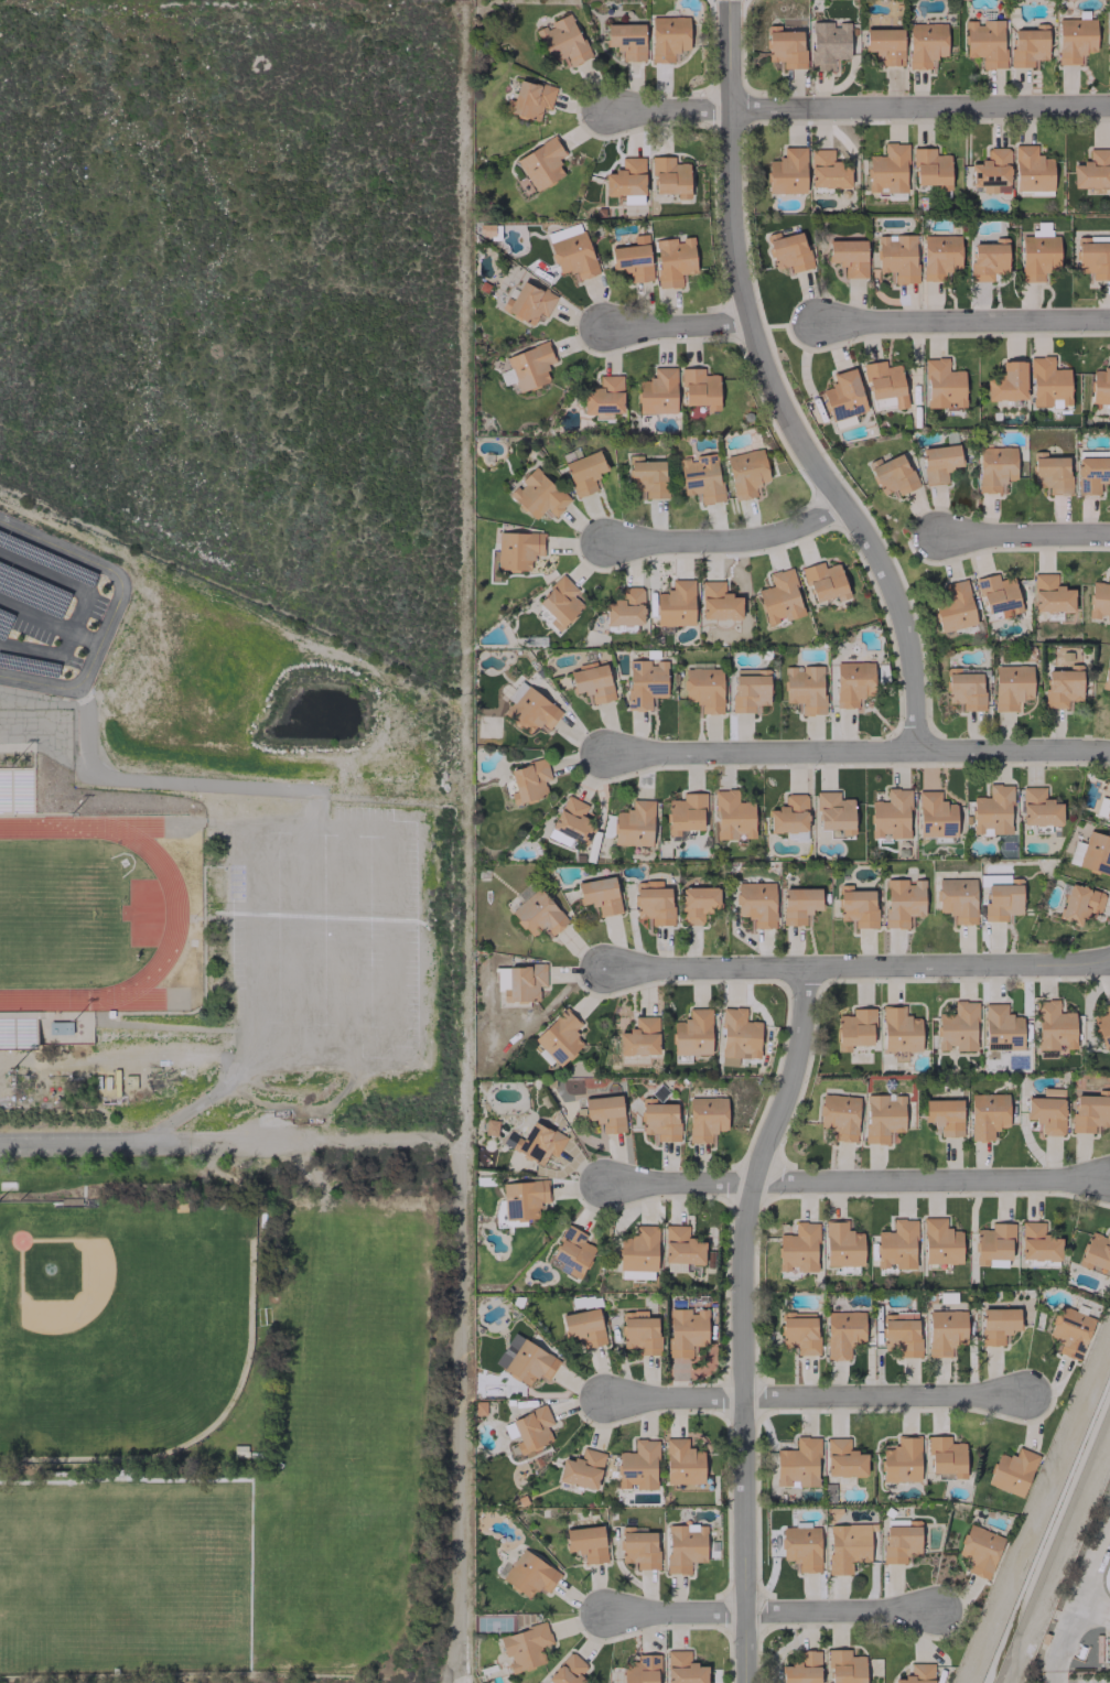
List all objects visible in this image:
building: (668, 37)
building: (1074, 39)
building: (562, 40)
building: (626, 40)
building: (984, 42)
building: (828, 44)
building: (925, 44)
building: (884, 45)
building: (1027, 45)
building: (785, 46)
building: (530, 99)
road: (860, 110)
building: (541, 163)
building: (930, 168)
building: (887, 169)
building: (1092, 169)
building: (827, 170)
building: (1031, 170)
building: (992, 171)
building: (787, 172)
building: (669, 176)
building: (626, 181)
building: (1041, 229)
building: (571, 250)
building: (789, 252)
building: (848, 256)
building: (939, 256)
building: (632, 257)
building: (897, 257)
building: (1037, 257)
building: (1092, 258)
building: (988, 259)
building: (673, 260)
building: (528, 302)
road: (963, 322)
road: (675, 328)
building: (527, 367)
building: (884, 381)
building: (1007, 382)
building: (1048, 384)
building: (942, 385)
building: (1100, 386)
building: (699, 388)
building: (657, 392)
road: (768, 393)
building: (843, 395)
building: (603, 397)
building: (938, 462)
building: (994, 467)
building: (583, 473)
building: (745, 473)
building: (892, 474)
building: (1050, 474)
building: (1091, 474)
building: (647, 477)
building: (701, 477)
building: (538, 495)
road: (1023, 536)
road: (726, 544)
building: (517, 550)
building: (825, 582)
building: (998, 594)
building: (1050, 594)
building: (779, 597)
building: (1099, 600)
building: (559, 602)
building: (718, 602)
building: (675, 604)
building: (625, 607)
building: (953, 607)
parking lot: (44, 608)
road: (114, 608)
road: (78, 609)
road: (49, 621)
building: (1106, 680)
building: (591, 682)
building: (645, 682)
building: (852, 683)
building: (1063, 686)
building: (1011, 687)
building: (804, 688)
building: (964, 688)
building: (703, 689)
building: (748, 689)
building: (530, 711)
road: (856, 754)
road: (173, 781)
building: (528, 781)
building: (1038, 808)
building: (1108, 810)
building: (992, 811)
building: (685, 813)
building: (834, 813)
building: (789, 814)
building: (891, 814)
building: (935, 814)
building: (732, 817)
building: (572, 820)
road: (319, 824)
building: (633, 824)
building: (795, 835)
road: (466, 841)
building: (1091, 853)
building: (599, 895)
building: (957, 899)
building: (1002, 900)
building: (653, 902)
building: (902, 902)
building: (697, 903)
building: (755, 903)
building: (1079, 903)
building: (798, 904)
building: (858, 907)
building: (537, 914)
stadium: (100, 916)
road: (248, 934)
road: (299, 937)
parking lot: (321, 937)
road: (344, 940)
road: (390, 943)
road: (862, 971)
building: (525, 982)
building: (1102, 1025)
building: (1054, 1026)
building: (957, 1027)
building: (854, 1028)
building: (1001, 1028)
building: (899, 1031)
building: (692, 1033)
building: (739, 1035)
building: (639, 1037)
building: (558, 1038)
road: (319, 1051)
road: (200, 1101)
building: (1047, 1111)
building: (1089, 1111)
building: (605, 1112)
building: (987, 1114)
building: (839, 1115)
building: (945, 1115)
building: (705, 1118)
building: (882, 1118)
building: (658, 1120)
building: (489, 1126)
road: (323, 1139)
building: (538, 1143)
road: (91, 1144)
road: (860, 1185)
building: (522, 1198)
building: (940, 1242)
building: (1037, 1243)
building: (842, 1244)
building: (896, 1245)
building: (993, 1245)
building: (797, 1248)
building: (680, 1249)
building: (638, 1250)
building: (1096, 1251)
building: (572, 1253)
park: (121, 1309)
park: (358, 1323)
road: (746, 1324)
building: (998, 1325)
building: (583, 1327)
building: (686, 1330)
building: (639, 1331)
building: (799, 1331)
building: (945, 1331)
building: (1069, 1331)
building: (843, 1333)
building: (901, 1334)
building: (524, 1360)
building: (493, 1389)
road: (818, 1393)
building: (531, 1430)
building: (946, 1456)
building: (843, 1458)
building: (901, 1459)
building: (682, 1463)
building: (797, 1464)
building: (637, 1466)
building: (582, 1469)
building: (1011, 1471)
park: (356, 1532)
building: (901, 1540)
building: (585, 1543)
building: (685, 1546)
building: (847, 1546)
building: (800, 1547)
building: (638, 1549)
building: (979, 1550)
building: (528, 1574)
park: (134, 1575)
road: (774, 1608)
building: (525, 1647)
building: (844, 1666)
building: (683, 1669)
building: (802, 1669)
building: (567, 1670)
building: (642, 1670)
building: (917, 1674)

